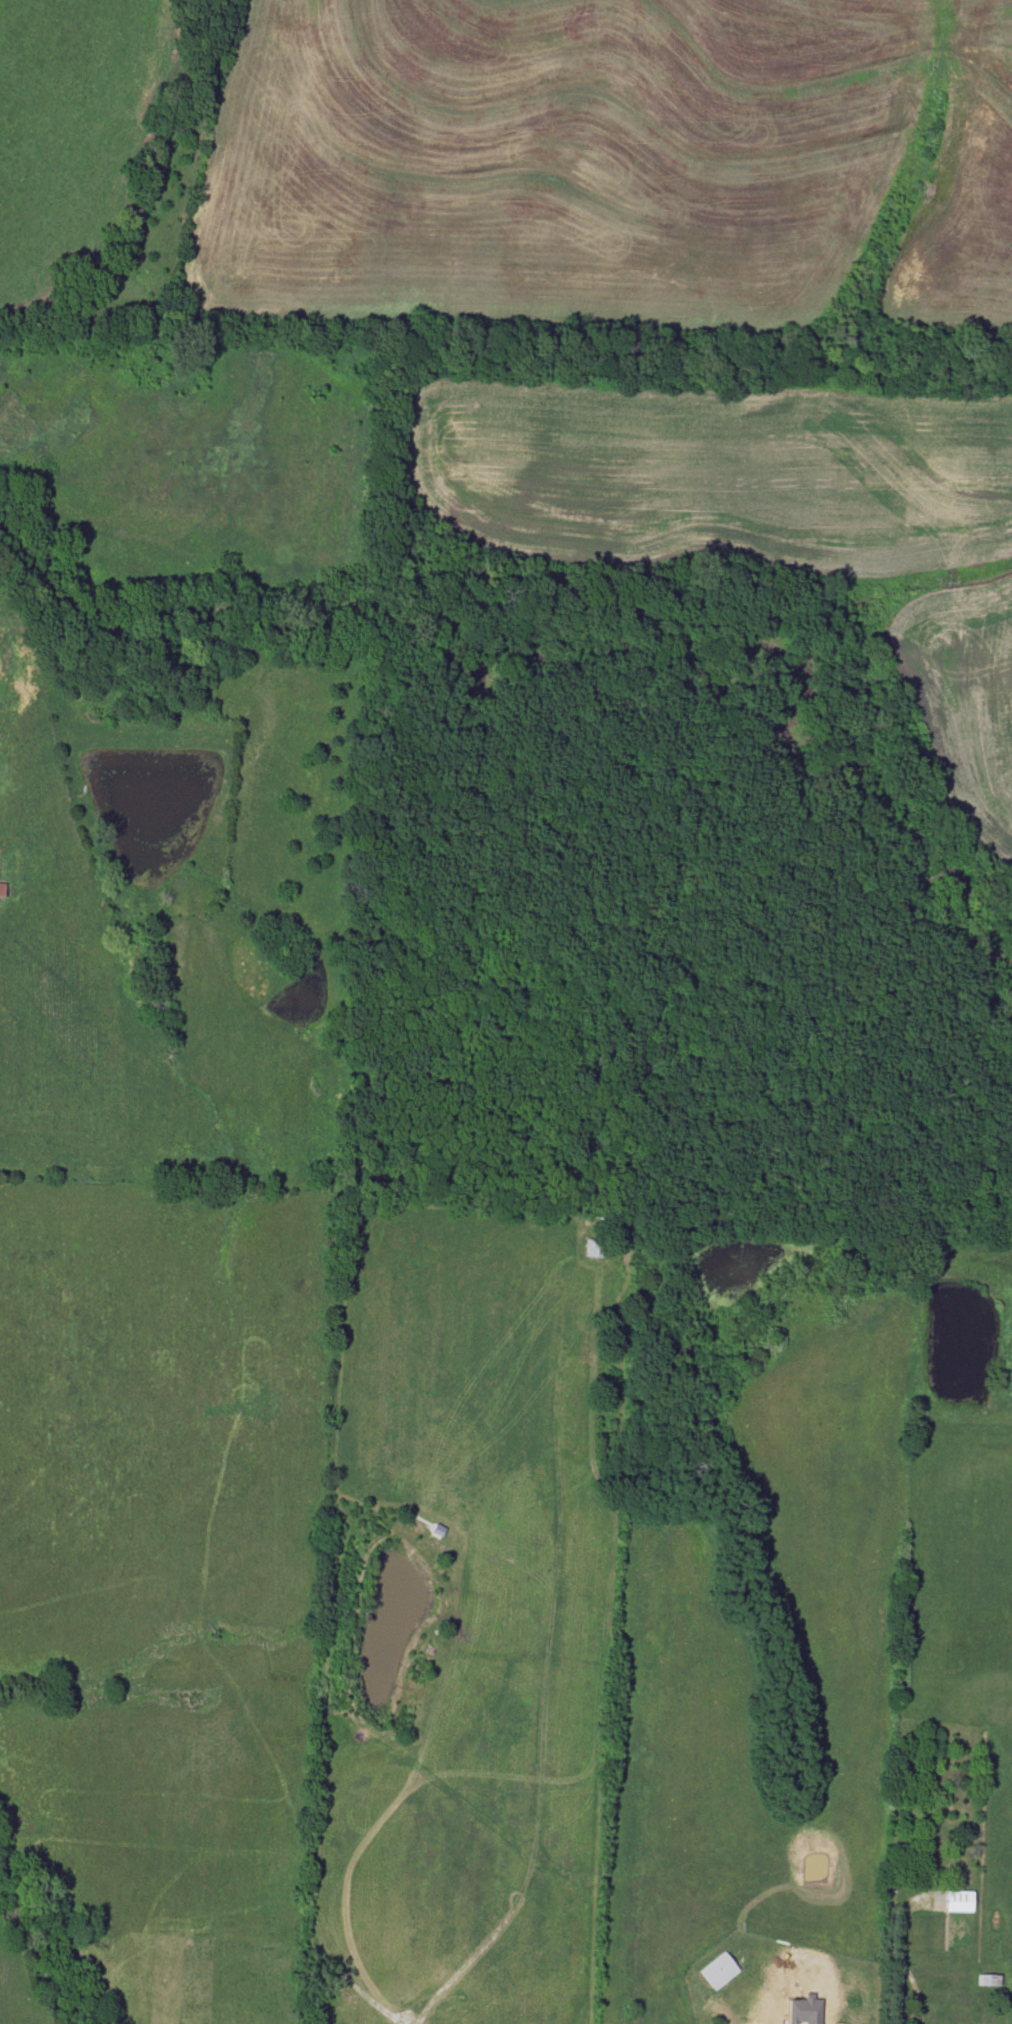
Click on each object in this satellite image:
crop: (611, 163)
crop: (765, 515)
building: (593, 1247)
building: (958, 1901)
building: (717, 1970)

